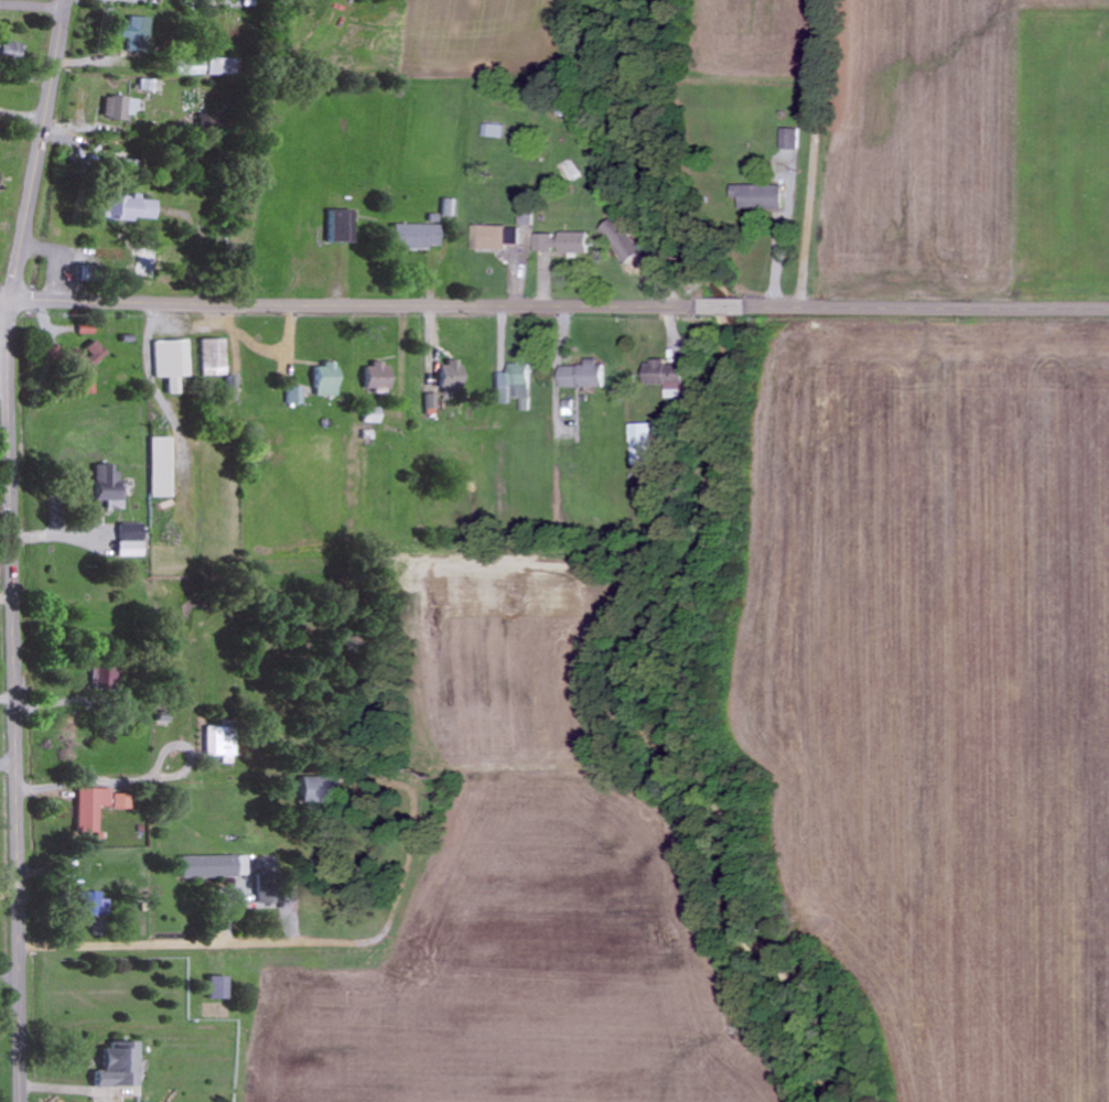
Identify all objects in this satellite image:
road: (33, 1)
building: (133, 34)
building: (9, 51)
building: (202, 67)
building: (117, 108)
building: (789, 140)
road: (39, 151)
road: (837, 154)
building: (757, 197)
building: (127, 207)
building: (448, 207)
building: (337, 226)
building: (413, 237)
building: (494, 238)
building: (621, 240)
building: (563, 244)
road: (6, 305)
road: (559, 306)
building: (85, 328)
building: (213, 357)
building: (84, 358)
building: (170, 358)
building: (446, 375)
building: (581, 376)
building: (375, 377)
building: (665, 378)
building: (324, 380)
building: (513, 383)
building: (293, 396)
building: (429, 404)
building: (370, 415)
building: (642, 445)
building: (159, 467)
building: (106, 486)
building: (127, 540)
building: (106, 678)
road: (17, 703)
building: (218, 745)
road: (198, 770)
building: (317, 790)
building: (119, 802)
building: (88, 808)
building: (212, 866)
building: (88, 905)
building: (215, 988)
building: (115, 1067)

